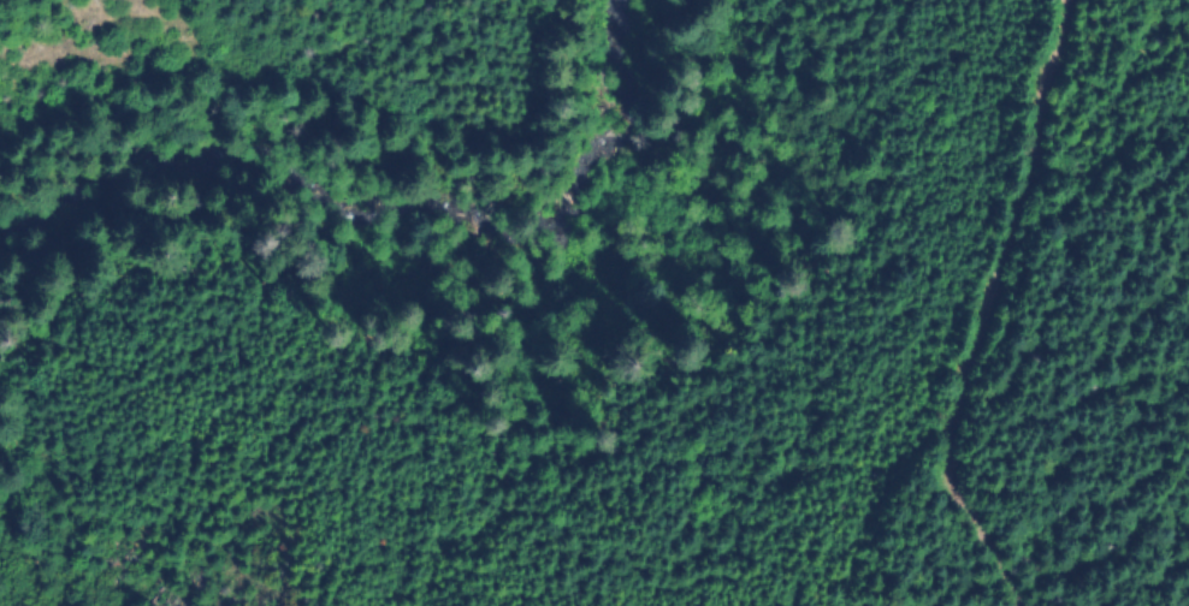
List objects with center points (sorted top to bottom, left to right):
road: (971, 303)

